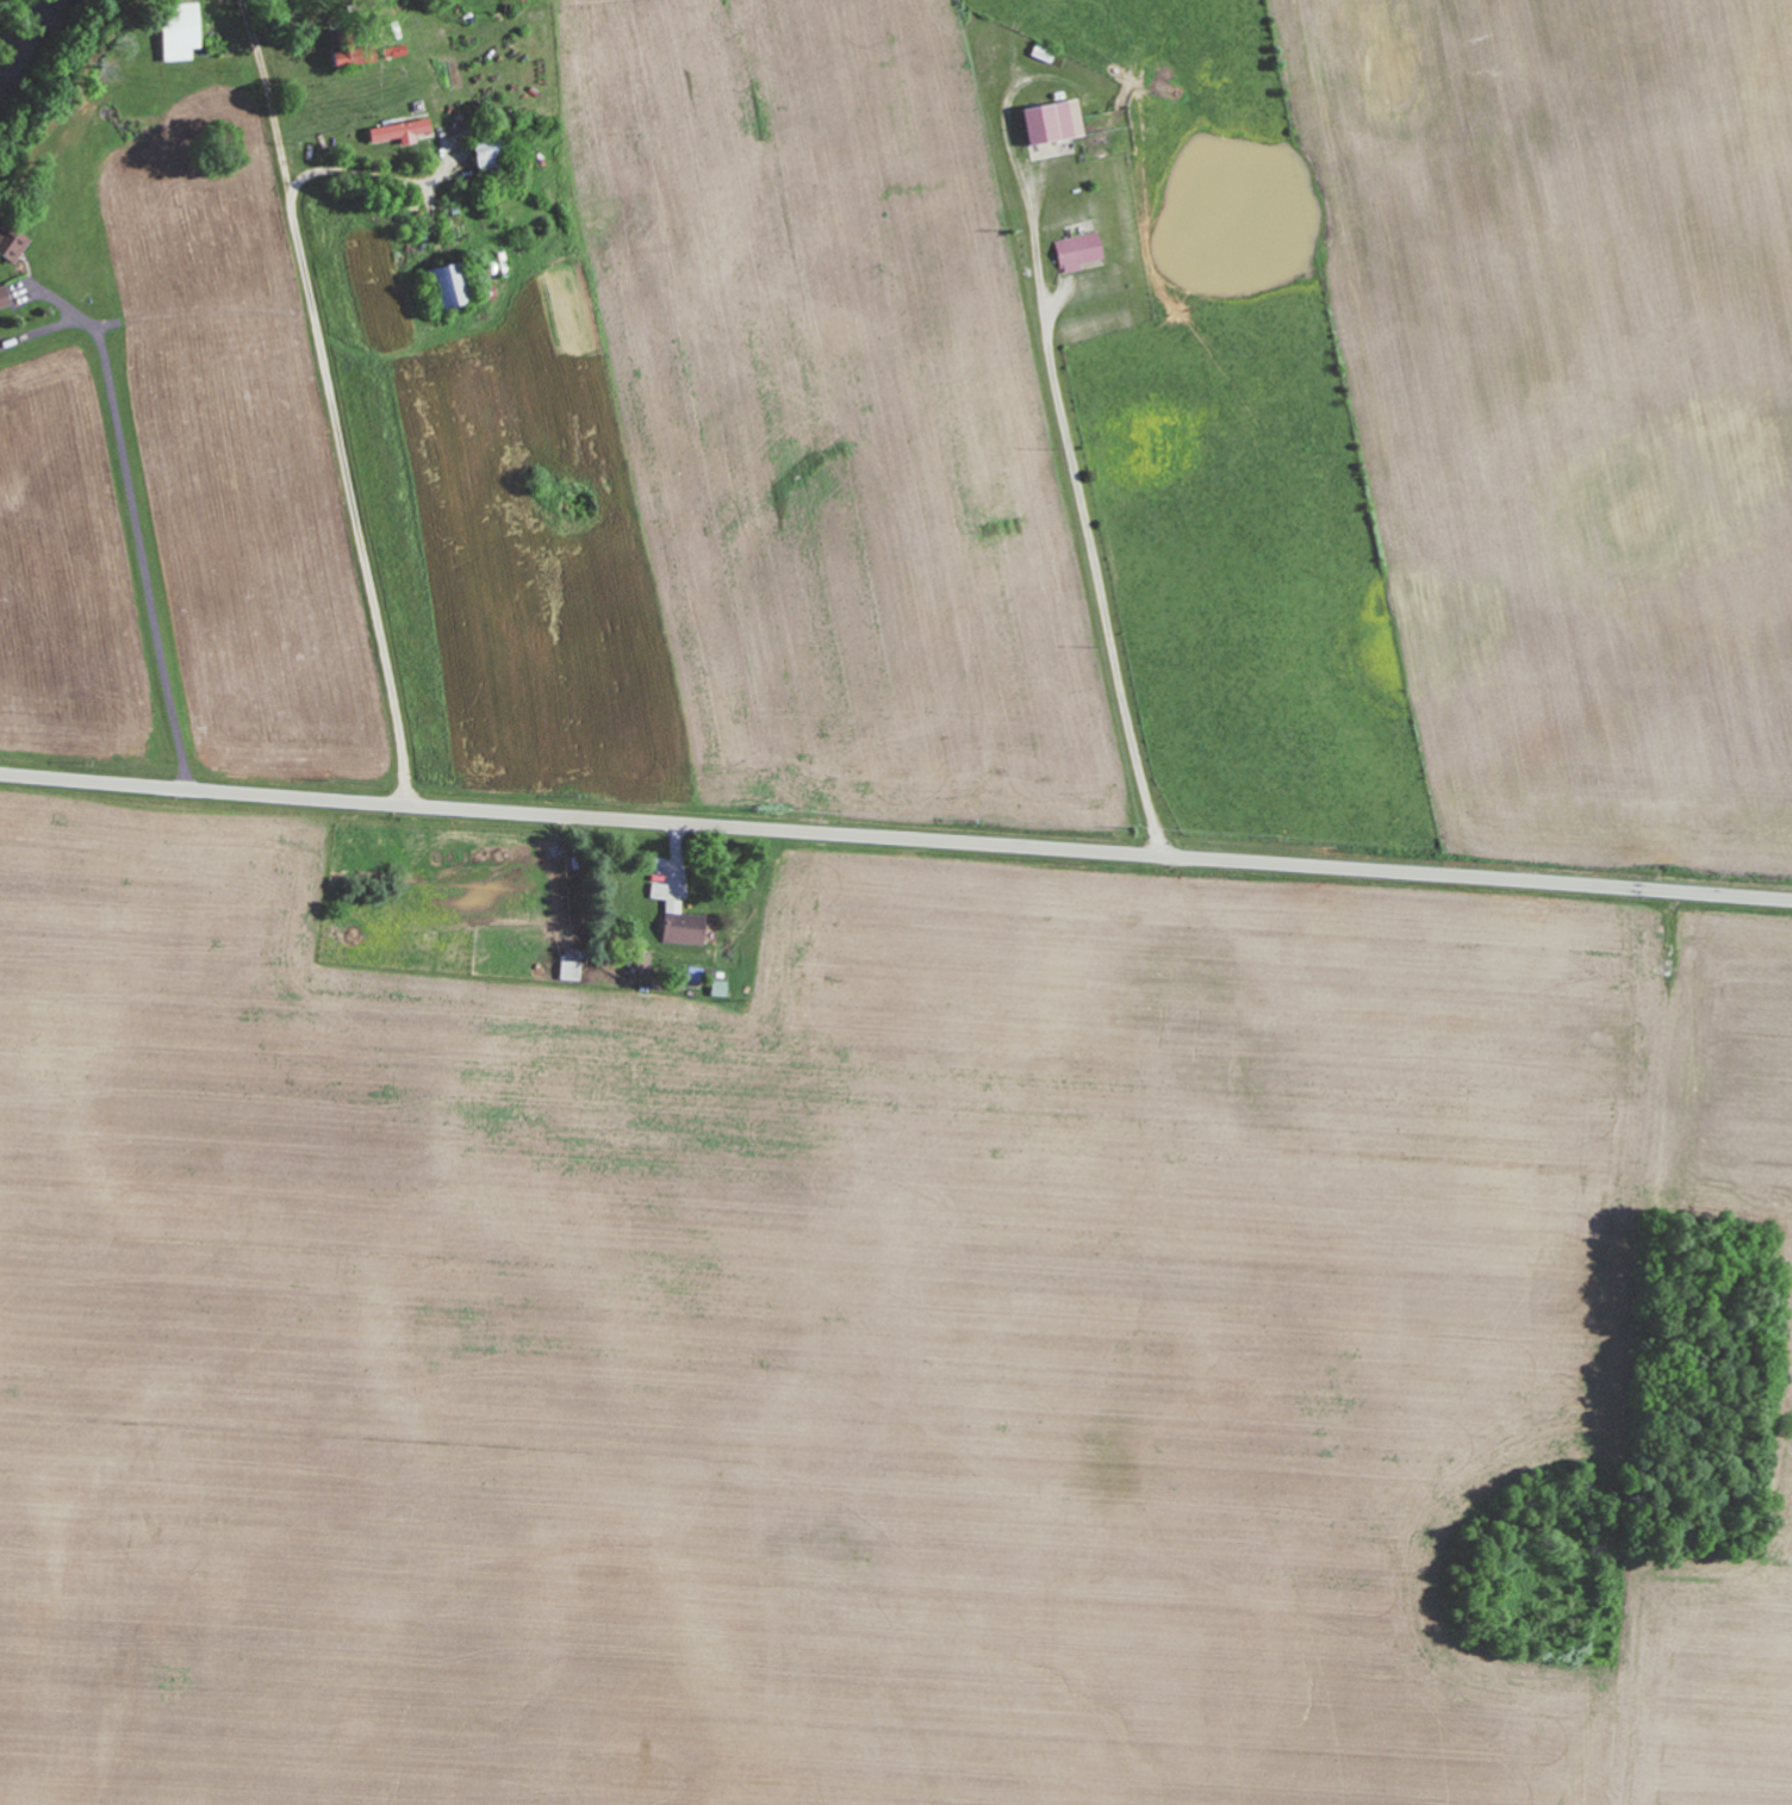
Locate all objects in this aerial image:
river: (23, 26)
building: (179, 30)
building: (1052, 122)
building: (399, 130)
building: (13, 247)
building: (1078, 250)
building: (447, 285)
building: (4, 300)
road: (324, 449)
road: (895, 839)
building: (659, 890)
building: (684, 925)
building: (570, 970)
building: (718, 988)

